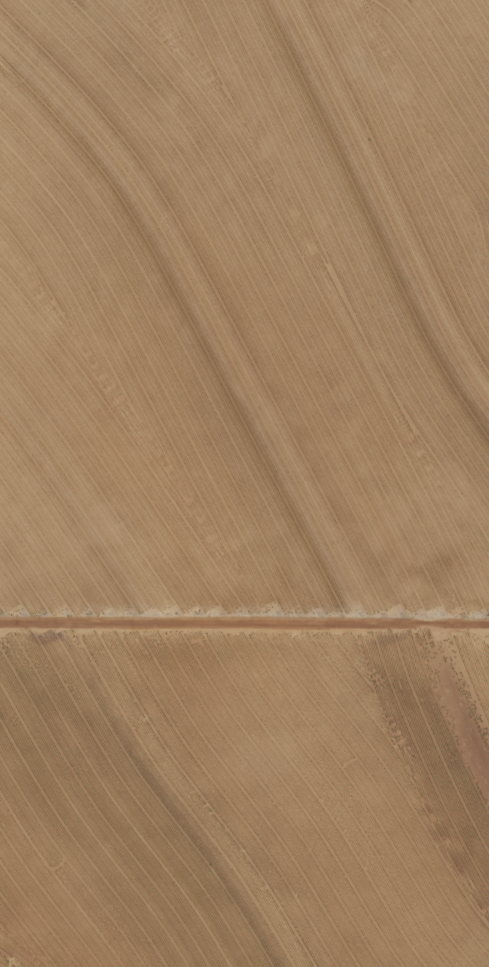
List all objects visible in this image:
road: (244, 603)

